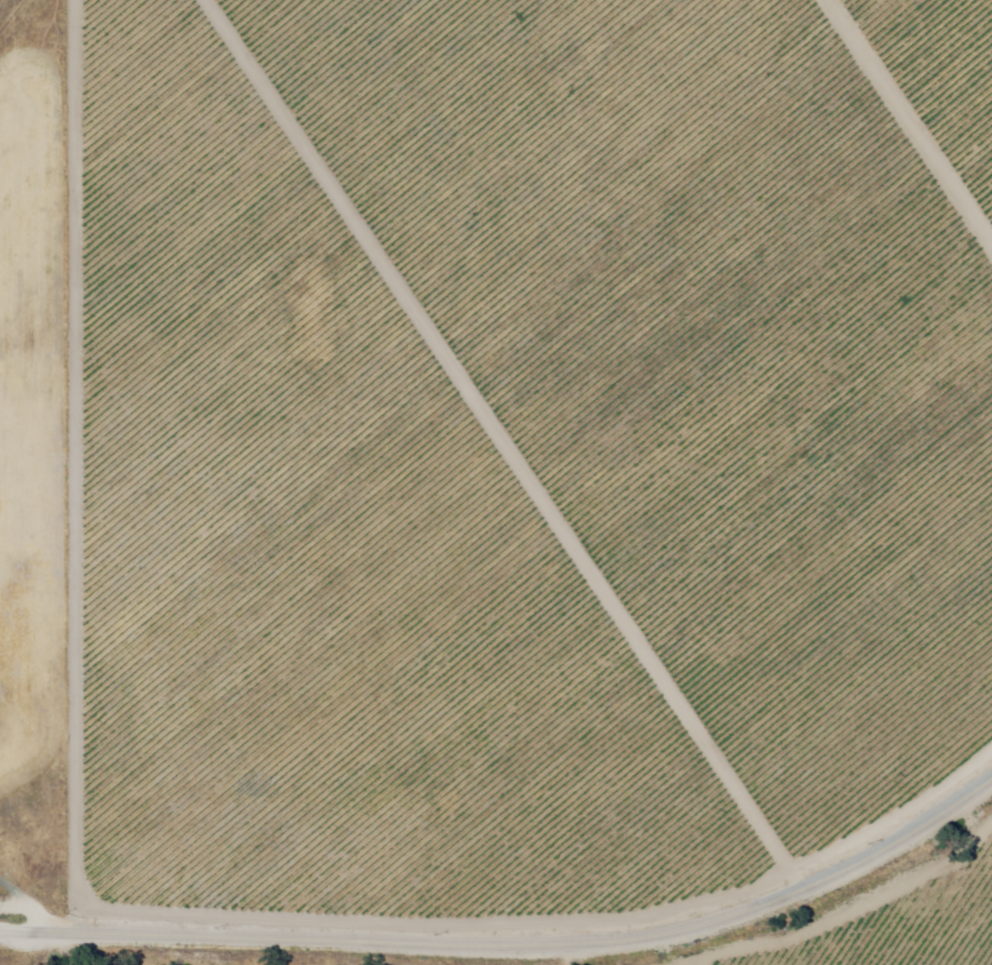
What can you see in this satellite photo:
road: (35, 54)
crop: (529, 467)
road: (18, 926)
road: (514, 942)

